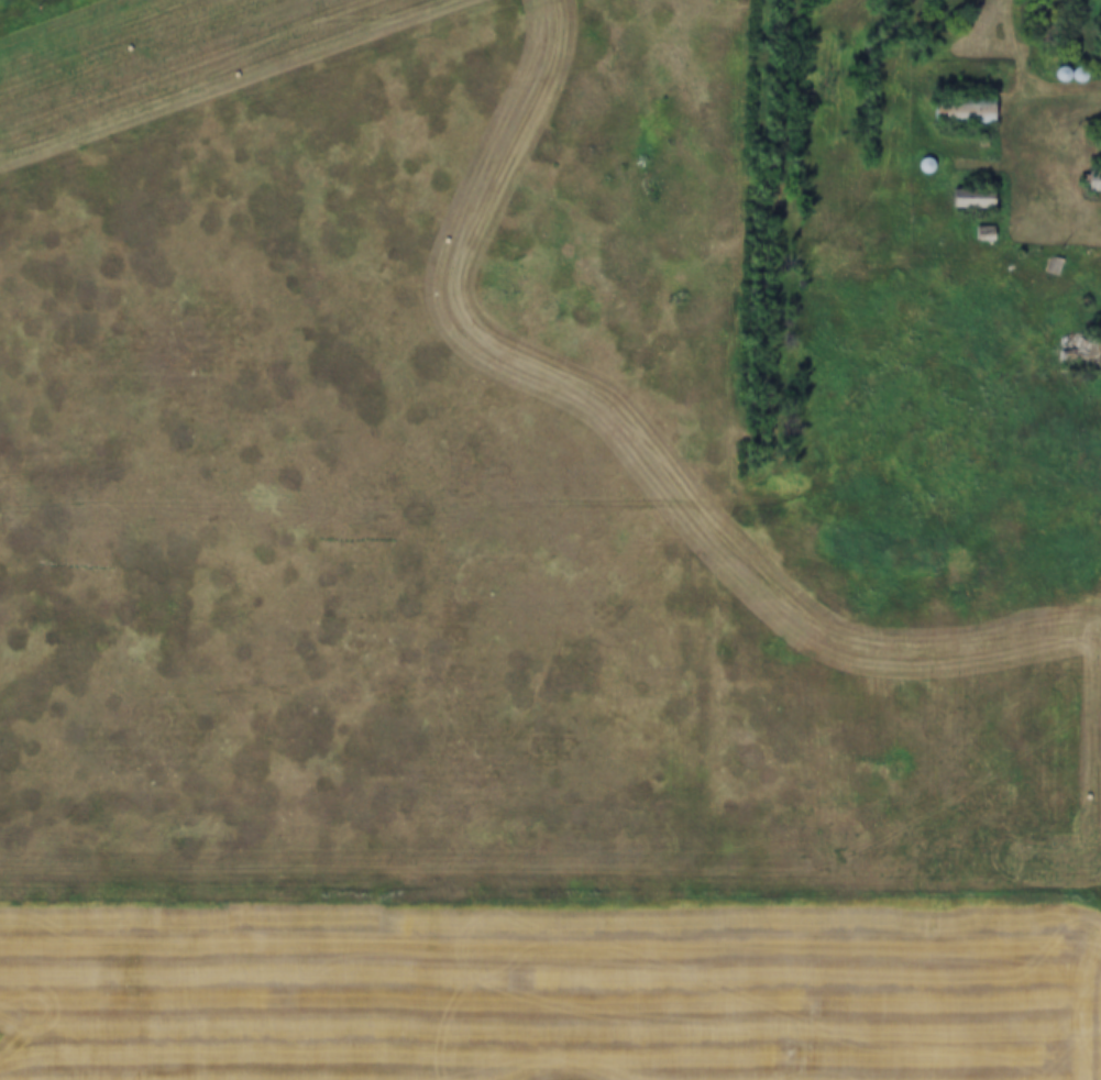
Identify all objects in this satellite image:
building: (966, 110)
road: (1016, 147)
building: (1094, 179)
building: (975, 198)
building: (984, 233)
building: (1053, 266)
building: (1079, 353)

